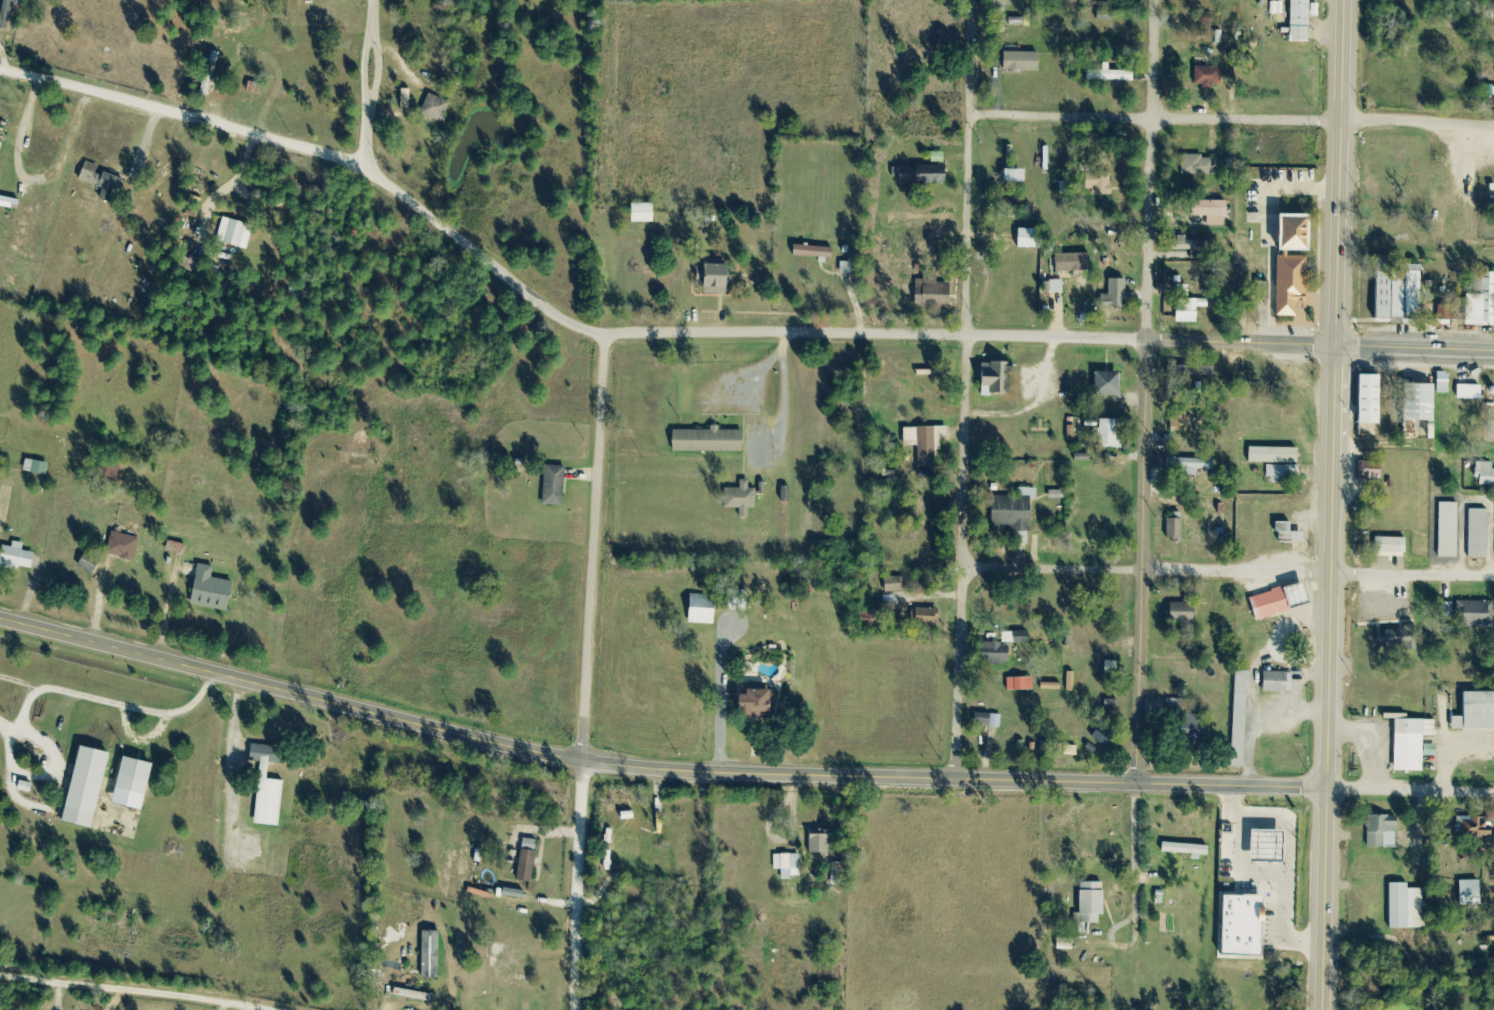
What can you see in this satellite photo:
building: (8, 14)
building: (1303, 21)
building: (1024, 63)
building: (1111, 75)
building: (1209, 78)
road: (374, 84)
building: (437, 109)
road: (183, 115)
road: (1233, 121)
road: (146, 138)
building: (1277, 155)
building: (1198, 167)
road: (1152, 170)
road: (1341, 174)
road: (35, 182)
building: (103, 183)
building: (1100, 184)
building: (1214, 213)
building: (646, 215)
building: (236, 234)
building: (1303, 234)
building: (1034, 240)
building: (816, 253)
building: (1074, 265)
building: (720, 280)
building: (1294, 288)
building: (936, 295)
building: (1404, 295)
building: (1118, 296)
building: (1483, 304)
building: (1192, 312)
road: (730, 334)
road: (1242, 344)
road: (1414, 349)
building: (996, 379)
building: (1109, 384)
road: (966, 389)
building: (1470, 392)
building: (1374, 398)
building: (1429, 399)
building: (1181, 422)
building: (1112, 434)
building: (710, 441)
building: (927, 445)
building: (1278, 462)
building: (1192, 466)
building: (38, 467)
building: (1485, 475)
building: (556, 486)
building: (744, 498)
building: (1017, 512)
building: (1176, 530)
building: (1449, 531)
building: (1480, 534)
building: (125, 546)
building: (1392, 546)
building: (20, 557)
road: (1146, 561)
building: (92, 563)
road: (1331, 567)
road: (1229, 572)
building: (895, 585)
building: (214, 590)
building: (739, 599)
building: (1274, 604)
building: (706, 611)
building: (1185, 612)
building: (1477, 614)
building: (925, 617)
building: (1404, 633)
building: (1006, 648)
road: (588, 671)
building: (1280, 683)
building: (1022, 684)
road: (719, 694)
building: (763, 702)
building: (1476, 712)
building: (988, 720)
building: (1414, 743)
road: (654, 768)
building: (137, 783)
building: (271, 784)
building: (92, 788)
road: (1410, 788)
building: (1478, 828)
building: (1383, 833)
building: (820, 843)
building: (1190, 850)
building: (530, 861)
building: (789, 866)
road: (1272, 869)
building: (1470, 893)
road: (1324, 898)
building: (1094, 904)
building: (1407, 908)
park: (24, 921)
building: (1248, 926)
building: (1068, 945)
road: (133, 990)
building: (415, 996)

